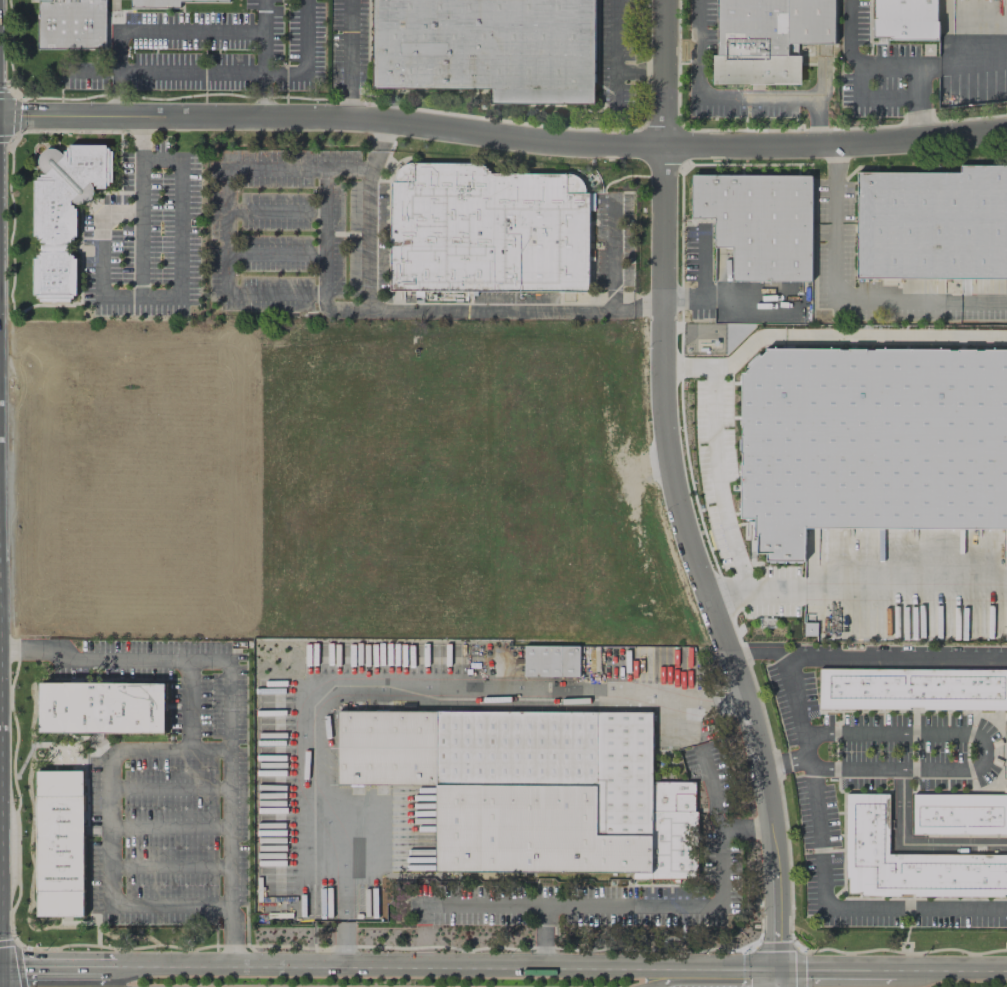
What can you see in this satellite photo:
building: (213, 0)
building: (154, 3)
building: (906, 19)
building: (71, 25)
road: (150, 31)
building: (767, 38)
building: (488, 48)
parking lot: (214, 51)
road: (616, 53)
road: (265, 56)
road: (351, 57)
road: (897, 69)
road: (221, 73)
road: (641, 73)
road: (729, 97)
road: (873, 100)
road: (918, 103)
road: (503, 135)
road: (665, 153)
road: (273, 212)
building: (63, 213)
building: (760, 223)
building: (933, 224)
building: (487, 231)
road: (325, 232)
road: (368, 238)
road: (613, 251)
road: (274, 253)
road: (101, 254)
road: (290, 293)
road: (729, 297)
road: (158, 298)
road: (843, 301)
road: (853, 333)
building: (871, 441)
road: (716, 475)
road: (672, 483)
road: (876, 592)
road: (761, 651)
road: (115, 655)
road: (856, 657)
building: (551, 661)
road: (375, 685)
building: (912, 689)
road: (707, 692)
building: (101, 707)
road: (979, 764)
road: (170, 787)
building: (531, 788)
road: (711, 788)
road: (232, 801)
building: (959, 814)
road: (775, 815)
road: (170, 828)
road: (108, 830)
building: (59, 844)
road: (916, 844)
building: (909, 860)
road: (170, 868)
road: (634, 902)
road: (844, 907)
road: (541, 936)
road: (234, 955)
road: (53, 964)
road: (559, 969)
road: (5, 984)

